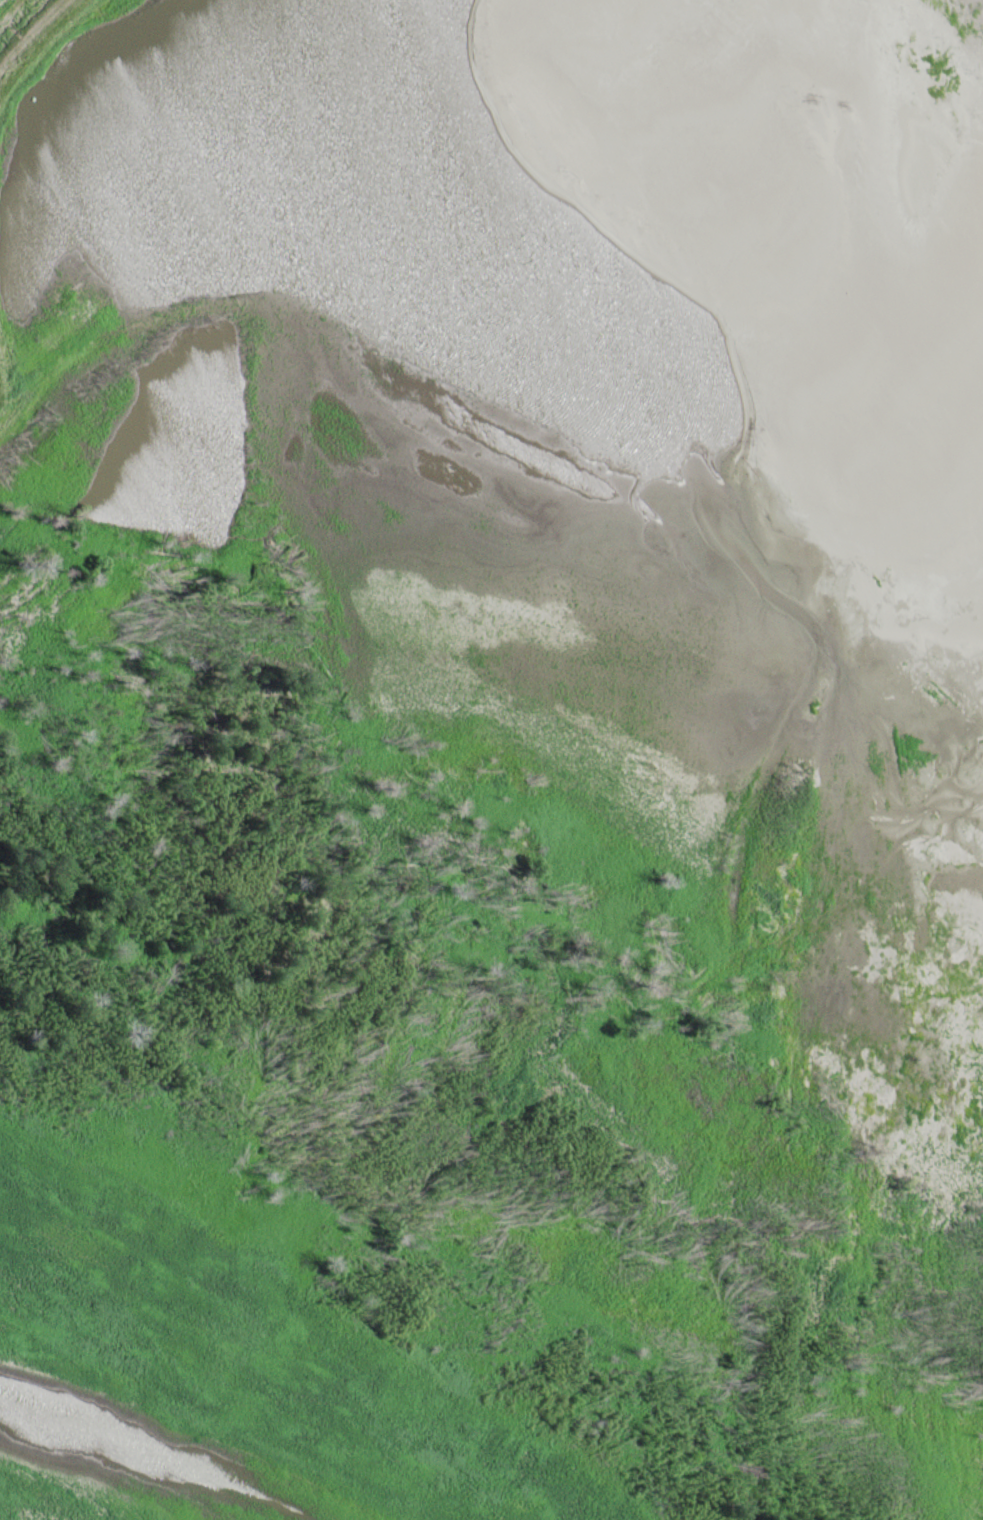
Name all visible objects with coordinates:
road: (221, 195)

